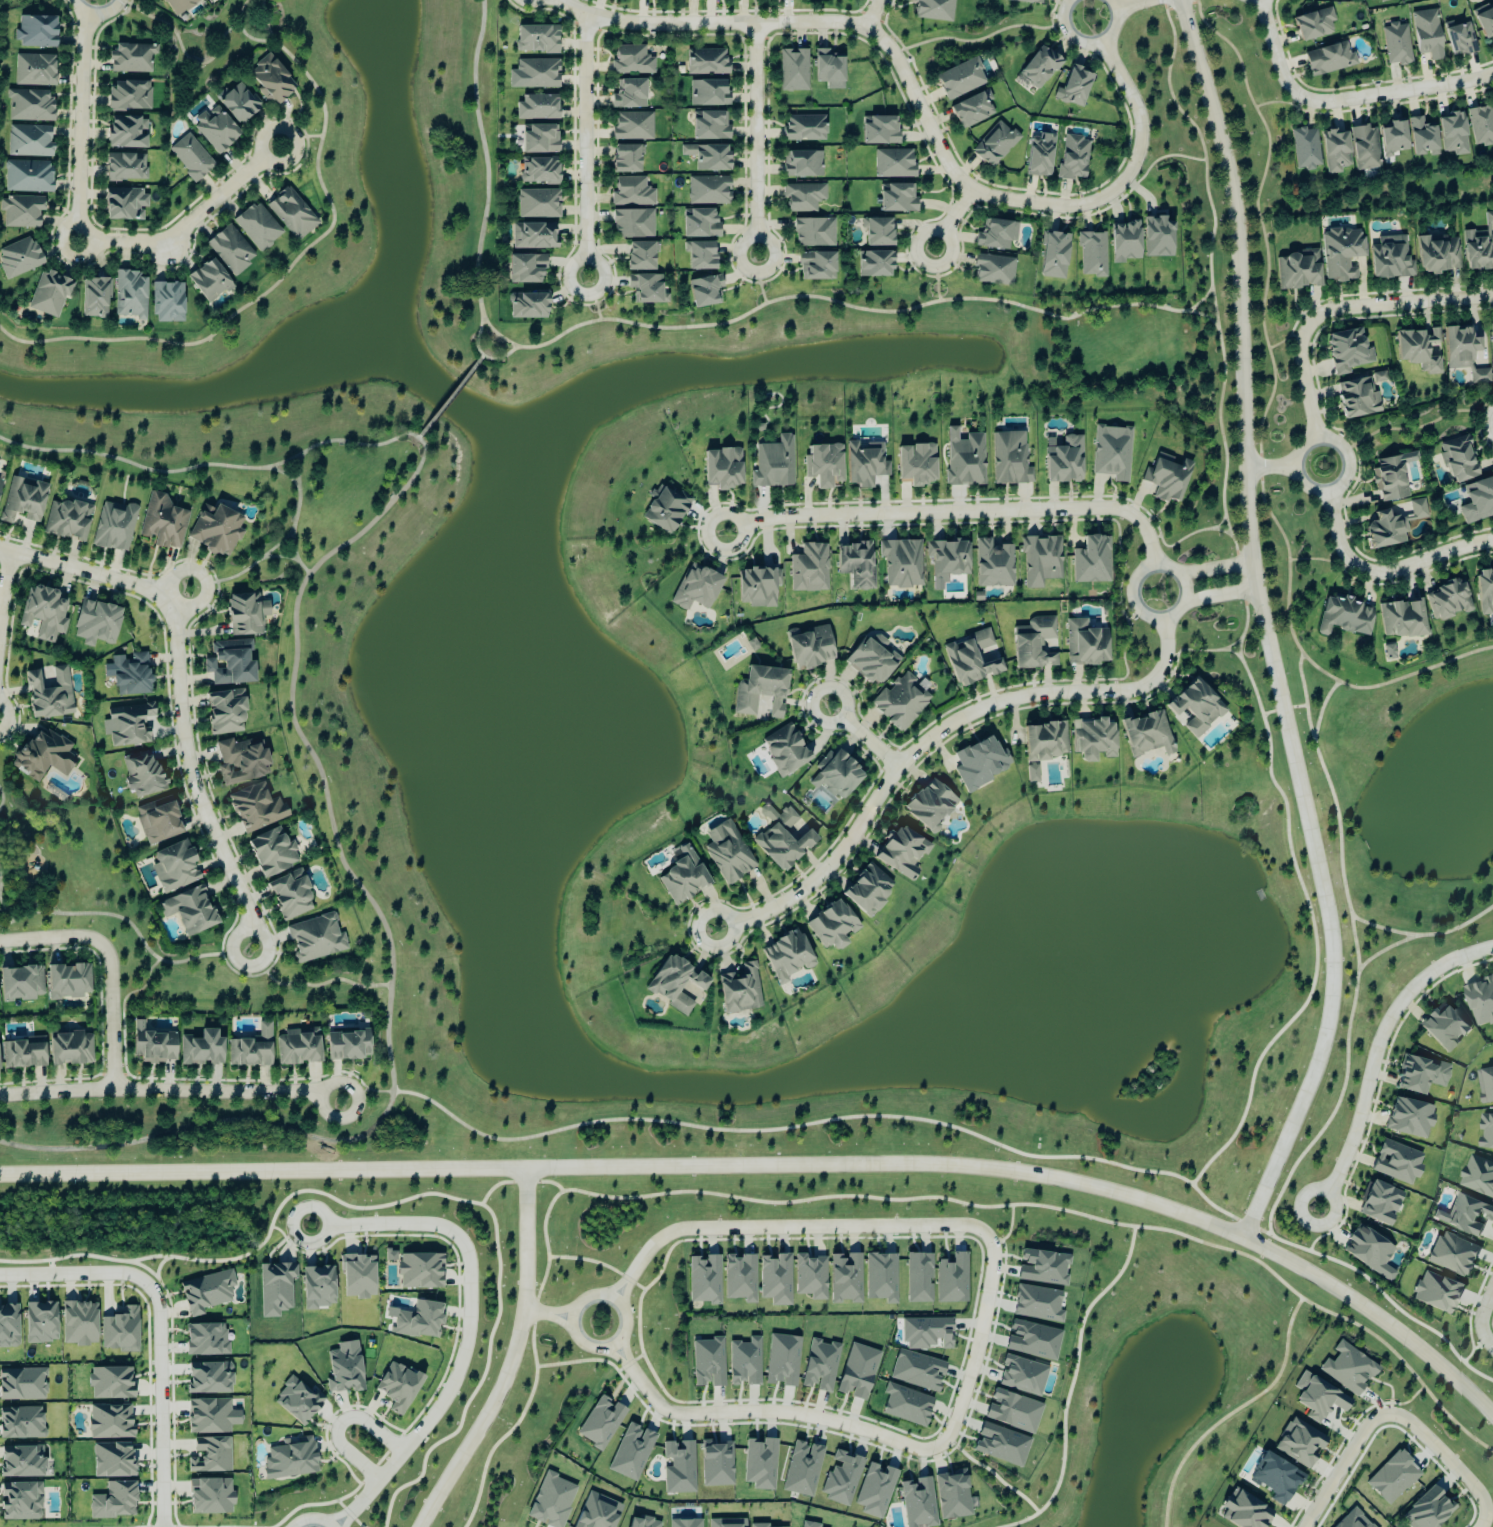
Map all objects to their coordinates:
building: (1368, 0)
building: (1383, 0)
building: (1027, 1)
road: (1182, 4)
building: (179, 5)
road: (1136, 6)
building: (933, 10)
road: (875, 14)
road: (97, 15)
building: (1485, 20)
building: (1314, 24)
building: (35, 31)
building: (1428, 34)
building: (1460, 38)
building: (536, 39)
road: (979, 39)
road: (1089, 43)
building: (1397, 44)
building: (131, 58)
building: (1329, 59)
building: (631, 61)
building: (706, 62)
building: (1039, 67)
building: (828, 69)
building: (34, 70)
building: (793, 70)
building: (534, 74)
building: (960, 79)
building: (271, 80)
building: (1074, 87)
building: (708, 93)
building: (629, 94)
building: (128, 96)
road: (1344, 100)
road: (1278, 101)
building: (237, 103)
building: (29, 106)
building: (537, 107)
road: (922, 110)
building: (971, 110)
building: (1481, 124)
building: (632, 126)
building: (710, 126)
road: (82, 127)
building: (804, 128)
building: (215, 130)
building: (879, 131)
building: (126, 132)
building: (1453, 134)
building: (1394, 138)
building: (1423, 138)
building: (539, 139)
road: (758, 140)
building: (29, 141)
building: (995, 144)
road: (588, 146)
building: (1305, 148)
building: (1365, 148)
building: (1335, 151)
building: (1039, 154)
road: (1163, 155)
building: (190, 157)
building: (707, 157)
road: (485, 158)
building: (1073, 158)
building: (625, 159)
building: (893, 163)
building: (802, 164)
building: (125, 167)
building: (539, 170)
building: (27, 176)
building: (708, 190)
building: (632, 192)
road: (1146, 195)
building: (803, 197)
building: (897, 198)
building: (124, 204)
building: (537, 204)
building: (21, 212)
building: (291, 214)
road: (954, 221)
building: (632, 223)
road: (190, 224)
building: (699, 224)
building: (257, 227)
building: (877, 231)
building: (814, 232)
building: (996, 234)
building: (533, 236)
building: (1158, 237)
building: (1125, 242)
building: (1479, 246)
building: (230, 249)
building: (1341, 253)
building: (1438, 253)
building: (1092, 254)
building: (700, 255)
building: (1054, 255)
building: (640, 256)
building: (19, 258)
building: (1391, 258)
building: (875, 264)
building: (815, 265)
building: (525, 268)
building: (993, 270)
building: (1299, 270)
road: (936, 275)
road: (758, 279)
building: (208, 281)
building: (645, 288)
building: (704, 291)
building: (48, 294)
building: (129, 295)
building: (94, 298)
road: (593, 299)
road: (1202, 299)
road: (1313, 301)
building: (167, 302)
road: (1398, 303)
road: (849, 304)
building: (528, 306)
road: (1205, 316)
road: (1299, 316)
road: (497, 334)
road: (1285, 337)
building: (1492, 339)
road: (48, 343)
building: (1420, 350)
building: (1348, 351)
building: (1464, 353)
road: (481, 354)
road: (1306, 382)
road: (450, 396)
building: (1359, 396)
road: (1261, 420)
building: (1112, 452)
building: (964, 458)
building: (1010, 459)
road: (303, 460)
building: (1458, 460)
building: (1064, 461)
road: (288, 463)
building: (773, 464)
building: (865, 464)
building: (917, 464)
building: (823, 465)
building: (722, 468)
road: (1273, 470)
road: (151, 471)
building: (1391, 477)
building: (1167, 479)
building: (0, 480)
road: (1305, 487)
building: (22, 500)
building: (1478, 501)
building: (665, 508)
building: (1418, 509)
road: (958, 515)
building: (66, 520)
building: (163, 522)
building: (113, 526)
road: (1338, 528)
building: (215, 530)
building: (1385, 531)
road: (1322, 559)
road: (285, 560)
building: (947, 561)
building: (1041, 561)
building: (1092, 561)
building: (901, 563)
road: (260, 564)
building: (993, 564)
building: (856, 565)
road: (1421, 565)
building: (809, 569)
road: (1217, 570)
road: (204, 578)
building: (758, 587)
building: (696, 588)
building: (1485, 591)
road: (5, 593)
road: (1222, 597)
building: (1448, 601)
building: (44, 613)
road: (1141, 613)
building: (245, 615)
building: (1345, 617)
building: (1402, 620)
building: (95, 623)
road: (1265, 625)
building: (878, 641)
building: (1034, 644)
building: (1085, 644)
building: (752, 645)
building: (810, 648)
building: (1389, 652)
building: (972, 659)
building: (229, 663)
building: (870, 663)
building: (128, 674)
building: (761, 691)
road: (180, 693)
building: (48, 694)
road: (298, 698)
building: (901, 701)
road: (1283, 707)
road: (1321, 707)
building: (1195, 708)
building: (225, 712)
building: (127, 725)
building: (1147, 734)
road: (867, 739)
building: (1093, 739)
road: (935, 740)
building: (1045, 742)
building: (786, 753)
building: (43, 756)
building: (239, 762)
building: (979, 764)
building: (141, 774)
building: (1032, 774)
building: (838, 775)
road: (3, 799)
building: (255, 808)
building: (929, 809)
building: (157, 821)
building: (785, 842)
building: (902, 852)
building: (272, 853)
building: (731, 859)
building: (174, 867)
road: (2, 882)
building: (682, 882)
building: (869, 893)
building: (290, 896)
building: (189, 911)
road: (13, 918)
building: (832, 927)
building: (315, 938)
road: (141, 939)
road: (1356, 951)
building: (790, 957)
road: (111, 964)
building: (67, 982)
building: (20, 984)
building: (677, 990)
building: (742, 992)
road: (392, 1001)
building: (1481, 1001)
road: (1284, 1026)
building: (1444, 1027)
building: (152, 1046)
building: (347, 1046)
building: (70, 1049)
building: (201, 1049)
building: (297, 1049)
building: (251, 1050)
road: (1374, 1051)
building: (23, 1055)
building: (1421, 1075)
building: (1485, 1085)
road: (171, 1093)
building: (1410, 1119)
building: (1486, 1130)
road: (179, 1134)
road: (782, 1161)
building: (1397, 1162)
building: (1478, 1176)
road: (546, 1180)
building: (1380, 1202)
road: (1000, 1204)
building: (1469, 1214)
road: (1331, 1226)
road: (1011, 1228)
road: (1319, 1236)
building: (1371, 1251)
building: (1453, 1254)
building: (1044, 1267)
road: (1351, 1267)
building: (419, 1270)
road: (74, 1272)
building: (357, 1276)
building: (810, 1276)
building: (740, 1277)
building: (881, 1277)
building: (845, 1278)
building: (918, 1278)
building: (704, 1279)
building: (775, 1279)
building: (952, 1279)
building: (318, 1287)
building: (275, 1288)
building: (206, 1292)
building: (1437, 1292)
building: (1037, 1303)
road: (1484, 1304)
road: (622, 1307)
road: (548, 1313)
building: (417, 1319)
road: (984, 1321)
building: (40, 1322)
building: (78, 1323)
building: (8, 1325)
road: (467, 1326)
building: (120, 1331)
building: (926, 1333)
road: (1485, 1337)
building: (205, 1339)
building: (1033, 1340)
road: (511, 1358)
building: (782, 1360)
building: (744, 1362)
building: (708, 1363)
building: (820, 1365)
building: (344, 1368)
building: (1348, 1368)
building: (917, 1370)
building: (857, 1371)
building: (1022, 1375)
building: (209, 1377)
building: (110, 1382)
building: (22, 1384)
road: (1071, 1385)
building: (398, 1387)
building: (1318, 1397)
building: (297, 1399)
road: (159, 1404)
building: (906, 1405)
road: (1234, 1410)
building: (1013, 1411)
building: (210, 1416)
building: (110, 1421)
road: (340, 1421)
building: (601, 1422)
building: (21, 1423)
building: (1300, 1443)
building: (1001, 1444)
building: (631, 1452)
road: (1441, 1453)
building: (209, 1455)
building: (112, 1459)
building: (289, 1460)
building: (21, 1461)
building: (716, 1464)
building: (760, 1464)
building: (679, 1467)
road: (1340, 1468)
building: (802, 1469)
road: (994, 1472)
building: (1393, 1477)
building: (841, 1478)
building: (1275, 1478)
building: (875, 1490)
building: (953, 1495)
building: (210, 1496)
building: (20, 1501)
building: (113, 1501)
building: (551, 1501)
building: (918, 1502)
building: (1428, 1510)
building: (1245, 1511)
building: (597, 1512)
road: (312, 1518)
road: (1485, 1519)
building: (1353, 1520)
building: (685, 1523)
building: (715, 1523)
building: (759, 1525)

